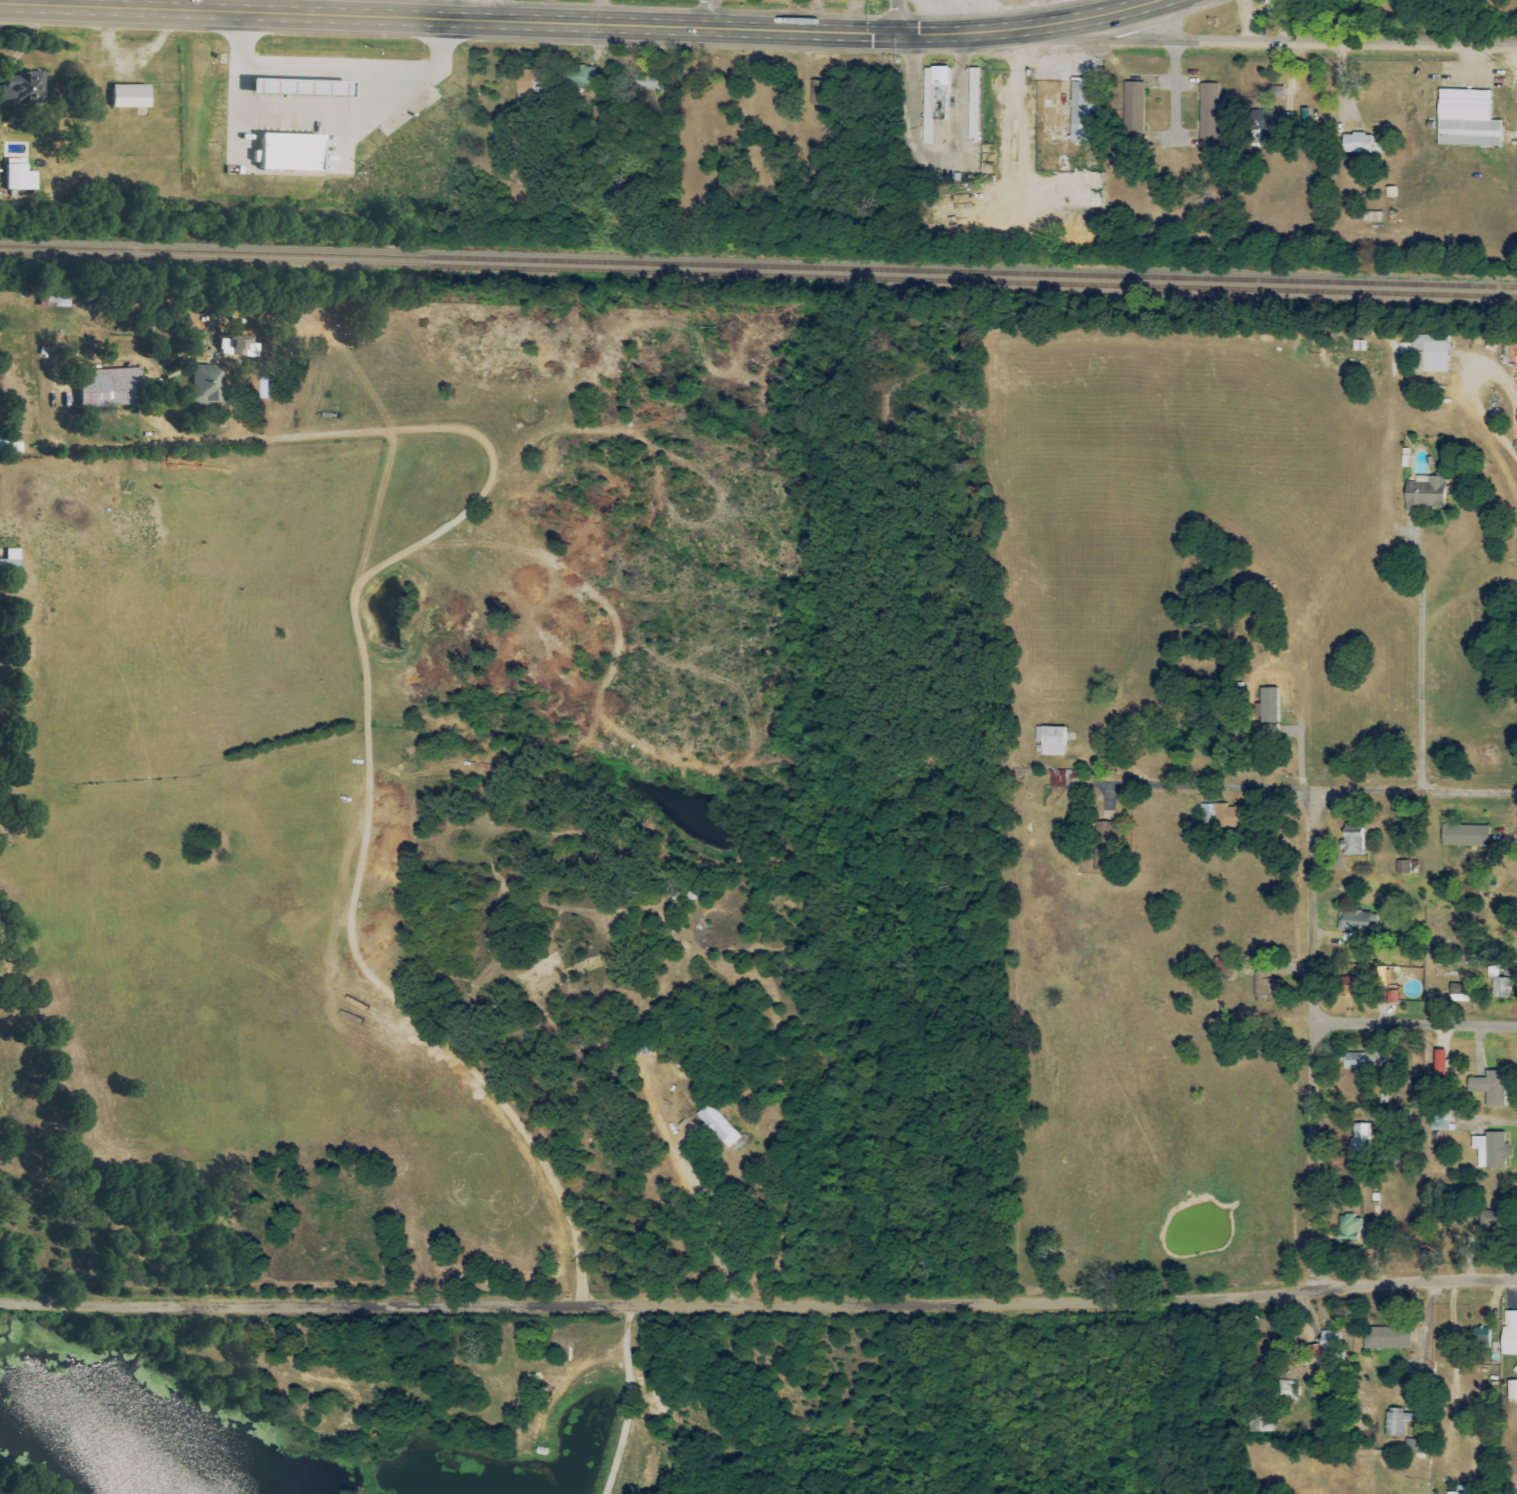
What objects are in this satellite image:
road: (81, 0)
road: (279, 5)
road: (496, 9)
road: (706, 12)
road: (890, 15)
road: (1080, 16)
road: (522, 18)
road: (1264, 43)
building: (577, 76)
building: (523, 80)
building: (648, 82)
building: (22, 89)
road: (1174, 90)
building: (934, 97)
building: (973, 103)
road: (326, 106)
building: (1131, 110)
building: (1208, 110)
building: (1085, 112)
road: (1296, 114)
building: (1466, 119)
building: (1263, 122)
building: (1357, 143)
building: (286, 152)
building: (17, 176)
building: (1391, 192)
building: (1372, 216)
railway: (758, 266)
railway: (758, 276)
building: (1429, 352)
building: (203, 384)
road: (1483, 417)
building: (1424, 493)
building: (10, 565)
road: (1420, 657)
building: (1268, 705)
building: (1049, 740)
building: (1057, 779)
road: (369, 785)
road: (1313, 789)
building: (1226, 816)
building: (1464, 836)
building: (1352, 840)
building: (1403, 867)
building: (1355, 921)
building: (1352, 986)
building: (1383, 987)
building: (1502, 987)
road: (1416, 1025)
road: (1315, 1039)
building: (1358, 1061)
building: (1489, 1088)
building: (1438, 1121)
building: (717, 1126)
building: (1360, 1139)
building: (1490, 1150)
building: (1489, 1219)
building: (1348, 1228)
road: (704, 1237)
road: (758, 1301)
building: (1509, 1334)
building: (1480, 1337)
building: (1388, 1338)
building: (1317, 1350)
building: (1287, 1390)
building: (1512, 1390)
building: (1263, 1410)
building: (1396, 1423)
building: (1414, 1446)
building: (1459, 1490)

